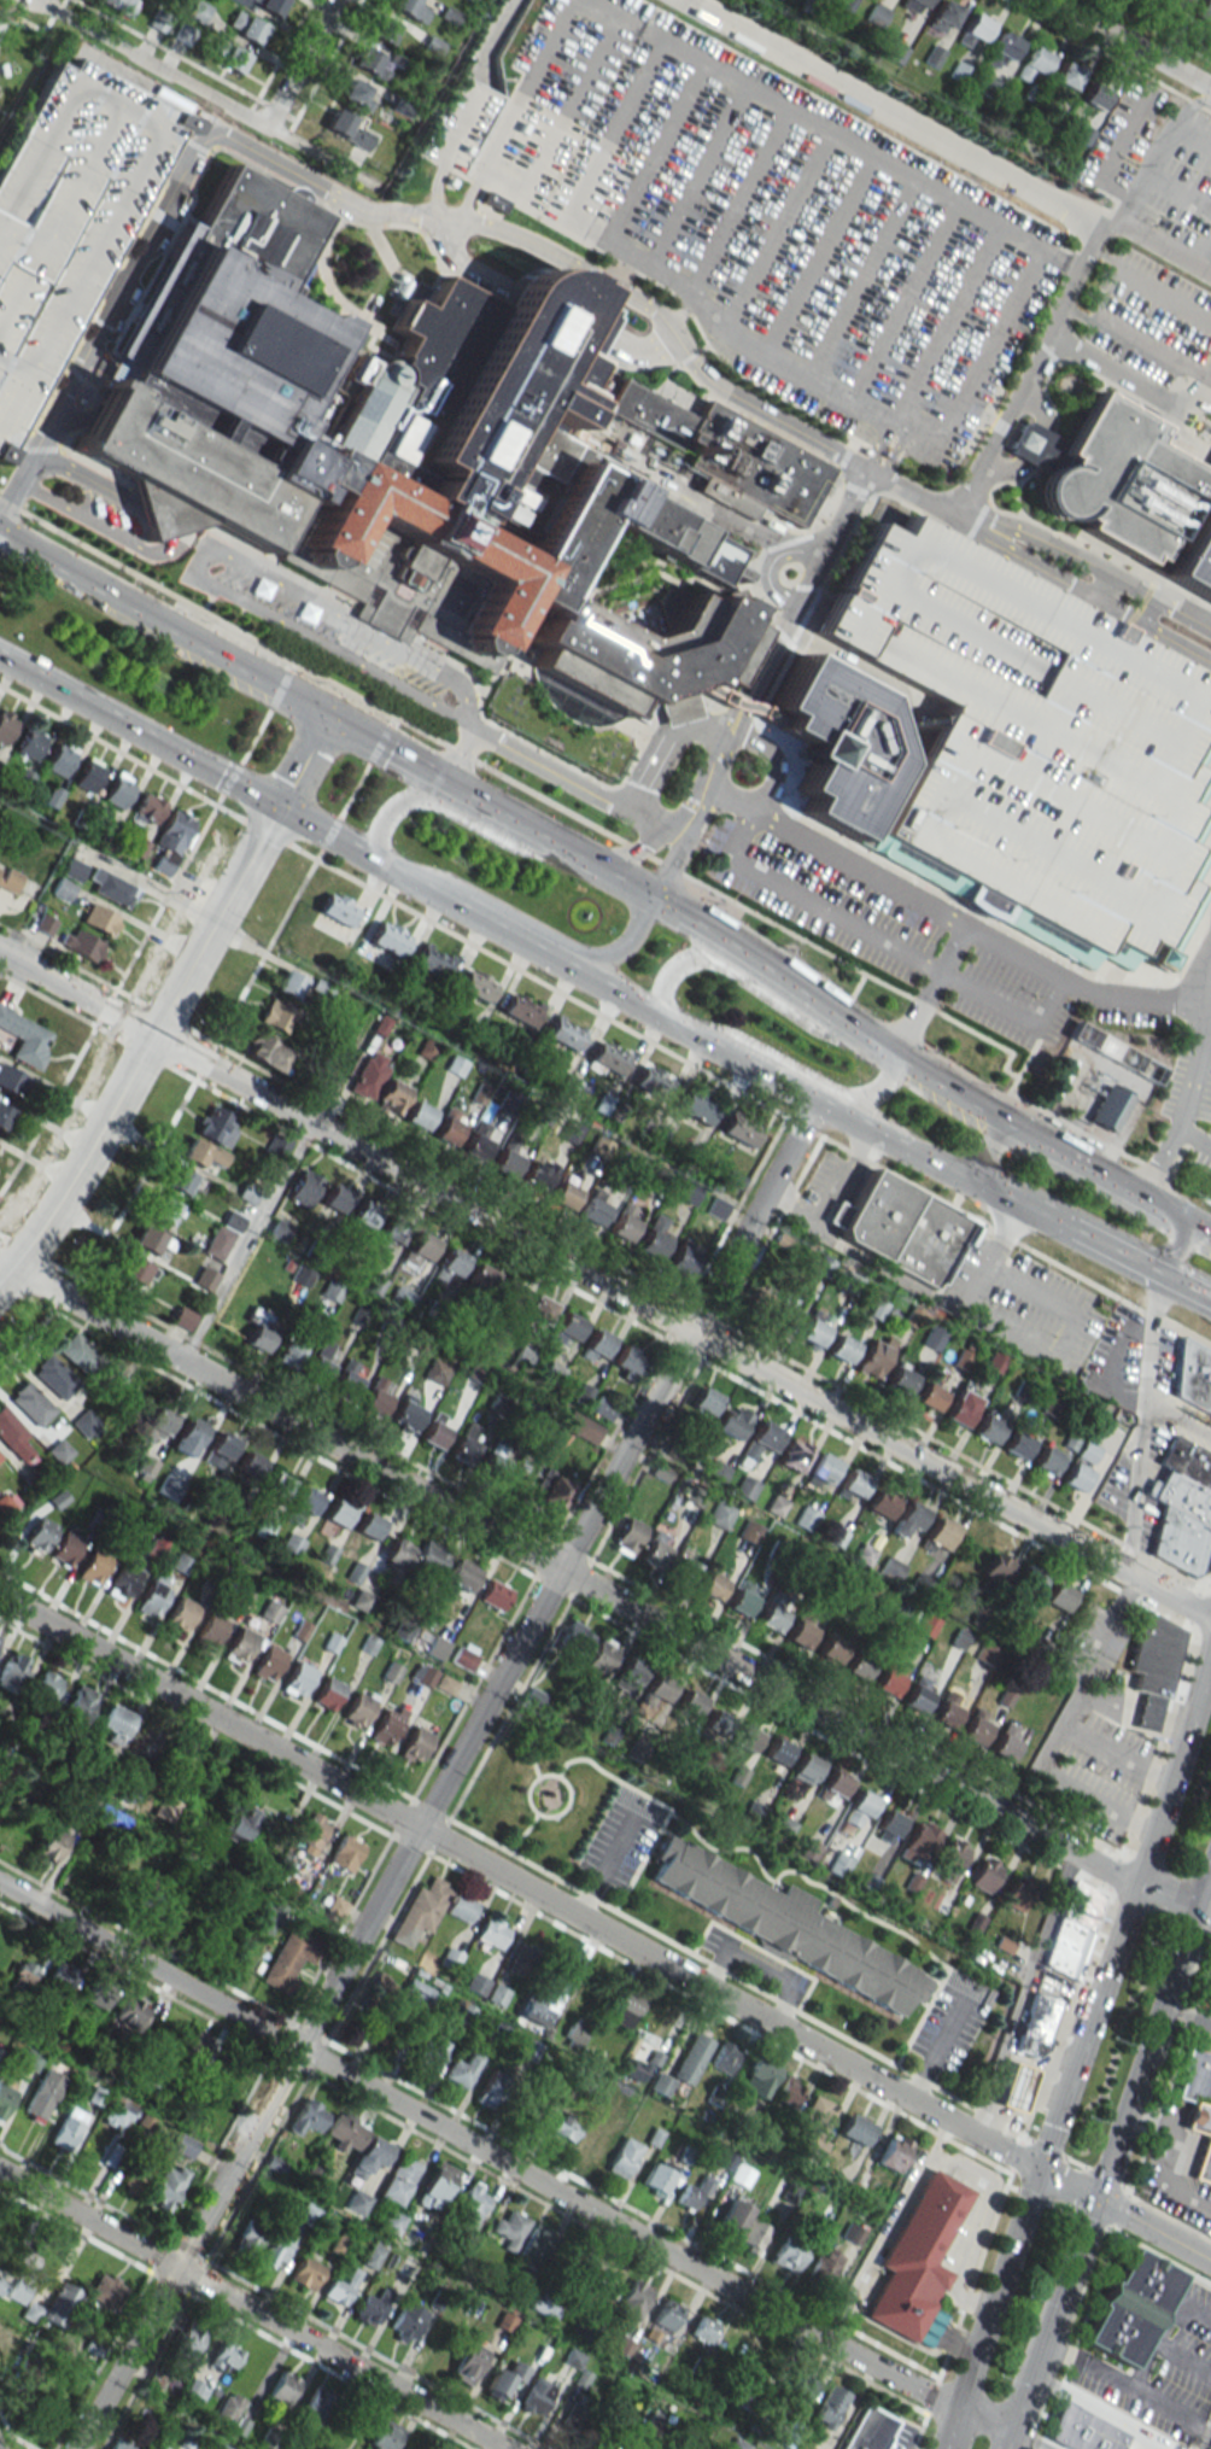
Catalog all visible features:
building: (472, 0)
road: (37, 2)
building: (1177, 2)
building: (267, 5)
building: (913, 5)
building: (119, 6)
building: (409, 7)
building: (198, 10)
building: (1203, 11)
building: (876, 14)
building: (943, 17)
building: (245, 27)
building: (381, 29)
building: (975, 29)
road: (1156, 29)
road: (495, 35)
road: (1129, 45)
building: (1004, 48)
building: (232, 58)
building: (368, 62)
road: (299, 63)
building: (1032, 63)
building: (1066, 75)
road: (525, 86)
road: (199, 90)
building: (357, 94)
building: (1094, 95)
road: (568, 105)
road: (890, 116)
parking lot: (460, 124)
building: (350, 129)
road: (460, 129)
road: (612, 129)
road: (1193, 135)
road: (654, 152)
road: (1160, 152)
road: (1115, 153)
road: (696, 175)
road: (912, 180)
parking lot: (1183, 187)
road: (433, 191)
road: (1180, 191)
road: (466, 195)
road: (739, 199)
road: (397, 211)
building: (66, 215)
parking lot: (66, 215)
parking lot: (773, 222)
road: (777, 233)
road: (1160, 241)
road: (1205, 255)
road: (817, 256)
road: (460, 263)
road: (860, 279)
road: (1151, 284)
road: (902, 302)
road: (680, 311)
road: (703, 311)
parking lot: (1153, 320)
road: (944, 325)
road: (1139, 344)
road: (638, 351)
road: (1036, 367)
road: (1124, 375)
road: (1039, 405)
road: (25, 446)
road: (881, 446)
road: (893, 454)
building: (438, 461)
road: (1002, 468)
building: (1124, 490)
road: (703, 507)
parking lot: (106, 510)
road: (174, 539)
road: (201, 553)
road: (808, 556)
road: (1088, 559)
road: (765, 571)
road: (1098, 584)
road: (1082, 594)
road: (1147, 609)
road: (162, 627)
road: (770, 649)
road: (865, 676)
traffic signals: (327, 718)
building: (5, 725)
road: (139, 730)
road: (350, 730)
building: (29, 743)
road: (663, 749)
building: (837, 749)
building: (1031, 749)
parking lot: (1031, 749)
road: (460, 756)
building: (59, 759)
road: (773, 759)
road: (303, 761)
road: (409, 762)
building: (88, 773)
road: (574, 783)
road: (519, 784)
building: (117, 790)
road: (729, 797)
road: (482, 802)
traffic signals: (279, 806)
building: (147, 807)
road: (450, 812)
road: (322, 831)
building: (171, 841)
road: (634, 852)
road: (667, 865)
building: (74, 869)
building: (8, 878)
road: (615, 879)
road: (413, 882)
building: (110, 888)
building: (62, 889)
traffic signals: (648, 896)
building: (337, 908)
building: (99, 918)
road: (543, 930)
building: (387, 937)
road: (989, 937)
road: (881, 940)
building: (80, 943)
road: (704, 959)
building: (432, 960)
road: (554, 962)
parking lot: (956, 968)
road: (666, 977)
building: (289, 983)
building: (475, 984)
road: (928, 990)
road: (802, 996)
road: (779, 1005)
building: (520, 1009)
building: (276, 1016)
road: (604, 1017)
building: (563, 1033)
building: (25, 1038)
road: (146, 1047)
building: (263, 1051)
building: (1113, 1052)
building: (605, 1058)
road: (802, 1070)
building: (368, 1075)
building: (11, 1080)
building: (650, 1081)
road: (931, 1082)
power substation: (1099, 1086)
building: (390, 1097)
road: (1186, 1099)
building: (694, 1105)
building: (1106, 1107)
road: (819, 1109)
building: (4, 1115)
building: (417, 1115)
road: (989, 1118)
building: (215, 1126)
building: (447, 1127)
building: (738, 1129)
building: (569, 1132)
road: (1193, 1136)
building: (475, 1142)
road: (976, 1147)
building: (200, 1152)
building: (507, 1159)
road: (1071, 1164)
building: (538, 1175)
building: (181, 1180)
building: (303, 1187)
building: (563, 1194)
road: (829, 1197)
building: (334, 1199)
building: (714, 1208)
building: (165, 1211)
road: (1031, 1214)
road: (1162, 1214)
building: (364, 1215)
building: (624, 1222)
building: (900, 1229)
building: (391, 1231)
building: (222, 1234)
road: (1199, 1234)
building: (150, 1239)
road: (246, 1241)
building: (651, 1241)
building: (419, 1251)
road: (1177, 1252)
road: (1117, 1255)
building: (681, 1258)
building: (449, 1264)
building: (133, 1270)
building: (302, 1274)
building: (204, 1278)
building: (479, 1279)
road: (604, 1285)
road: (1188, 1287)
building: (508, 1294)
building: (399, 1298)
building: (538, 1309)
building: (783, 1311)
building: (182, 1317)
building: (813, 1327)
building: (259, 1328)
building: (566, 1328)
road: (1066, 1332)
building: (932, 1337)
building: (595, 1345)
building: (841, 1348)
building: (78, 1352)
building: (287, 1354)
building: (873, 1356)
building: (522, 1357)
building: (321, 1361)
building: (625, 1361)
building: (435, 1372)
building: (475, 1372)
building: (53, 1377)
building: (347, 1378)
building: (900, 1378)
building: (1193, 1378)
building: (374, 1397)
building: (928, 1397)
building: (703, 1401)
building: (30, 1403)
building: (959, 1407)
building: (405, 1413)
building: (731, 1421)
road: (1140, 1422)
building: (86, 1424)
building: (580, 1426)
building: (151, 1427)
building: (987, 1427)
building: (433, 1430)
building: (13, 1436)
building: (188, 1436)
building: (761, 1439)
building: (1016, 1444)
building: (464, 1445)
building: (218, 1450)
building: (1086, 1451)
building: (792, 1454)
building: (0, 1456)
building: (1045, 1461)
building: (493, 1463)
building: (248, 1465)
building: (821, 1468)
building: (1075, 1477)
building: (275, 1485)
building: (850, 1485)
building: (168, 1486)
building: (744, 1486)
building: (554, 1492)
building: (6, 1502)
building: (879, 1503)
building: (302, 1507)
building: (1181, 1507)
building: (337, 1513)
building: (719, 1514)
building: (805, 1518)
building: (907, 1518)
building: (368, 1525)
building: (749, 1532)
building: (628, 1533)
building: (938, 1533)
building: (39, 1535)
building: (156, 1545)
building: (65, 1548)
building: (655, 1549)
building: (397, 1553)
building: (429, 1557)
building: (92, 1566)
building: (994, 1566)
building: (681, 1570)
building: (462, 1574)
building: (1029, 1579)
road: (579, 1580)
building: (122, 1582)
building: (710, 1585)
building: (153, 1594)
building: (493, 1594)
building: (1057, 1596)
building: (742, 1597)
building: (771, 1612)
building: (181, 1613)
building: (924, 1627)
building: (210, 1630)
building: (800, 1632)
building: (574, 1637)
building: (239, 1646)
building: (830, 1648)
building: (985, 1654)
building: (462, 1655)
building: (599, 1656)
building: (268, 1662)
building: (856, 1666)
building: (1152, 1667)
building: (11, 1671)
building: (628, 1672)
building: (889, 1676)
building: (297, 1678)
building: (45, 1687)
building: (919, 1687)
building: (657, 1689)
building: (327, 1693)
building: (532, 1697)
road: (513, 1699)
building: (689, 1702)
building: (77, 1706)
building: (358, 1707)
building: (947, 1708)
building: (715, 1723)
building: (387, 1724)
building: (118, 1725)
building: (975, 1726)
road: (1061, 1730)
building: (745, 1737)
road: (525, 1738)
building: (1005, 1742)
building: (414, 1744)
building: (776, 1750)
road: (1116, 1758)
building: (180, 1759)
road: (1176, 1763)
building: (805, 1769)
road: (445, 1776)
road: (536, 1777)
building: (832, 1787)
building: (127, 1792)
building: (165, 1808)
park: (563, 1808)
building: (859, 1808)
building: (0, 1812)
building: (107, 1818)
building: (244, 1822)
building: (888, 1824)
building: (312, 1829)
road: (522, 1831)
parking lot: (620, 1836)
building: (918, 1842)
building: (51, 1846)
building: (345, 1853)
road: (640, 1859)
building: (950, 1860)
building: (838, 1865)
road: (602, 1866)
road: (789, 1870)
building: (983, 1875)
road: (519, 1883)
road: (1204, 1883)
building: (1018, 1892)
road: (1180, 1900)
building: (337, 1906)
building: (460, 1907)
building: (420, 1911)
building: (265, 1915)
building: (782, 1925)
road: (1200, 1925)
building: (1072, 1929)
building: (491, 1934)
road: (761, 1950)
building: (288, 1958)
building: (449, 1958)
building: (519, 1958)
road: (715, 1965)
road: (761, 1965)
building: (24, 1974)
building: (57, 1977)
building: (475, 1982)
building: (379, 1986)
building: (497, 1994)
road: (1023, 1994)
building: (414, 1995)
building: (625, 2009)
building: (130, 2011)
building: (533, 2013)
road: (1186, 2018)
building: (1037, 2027)
road: (1087, 2027)
building: (574, 2033)
building: (159, 2034)
building: (384, 2034)
building: (528, 2048)
building: (195, 2051)
road: (935, 2051)
road: (1146, 2052)
building: (428, 2053)
building: (724, 2057)
building: (685, 2063)
building: (461, 2070)
building: (634, 2070)
building: (1195, 2076)
building: (756, 2077)
building: (489, 2088)
building: (1017, 2091)
building: (786, 2092)
building: (43, 2093)
building: (5, 2097)
building: (118, 2115)
building: (308, 2117)
building: (815, 2121)
building: (564, 2126)
building: (66, 2128)
building: (853, 2128)
building: (344, 2131)
building: (597, 2139)
building: (183, 2145)
building: (891, 2152)
road: (1176, 2155)
road: (492, 2156)
building: (1204, 2156)
building: (368, 2157)
building: (624, 2157)
traffic signals: (1037, 2170)
building: (136, 2173)
building: (739, 2175)
building: (656, 2176)
building: (398, 2180)
road: (1066, 2185)
building: (166, 2186)
building: (437, 2186)
building: (692, 2193)
traffic signals: (1096, 2200)
building: (357, 2202)
building: (470, 2203)
building: (731, 2216)
building: (393, 2219)
road: (979, 2223)
building: (510, 2227)
road: (1153, 2229)
road: (890, 2232)
building: (250, 2234)
building: (751, 2235)
building: (534, 2245)
building: (275, 2249)
building: (373, 2256)
building: (785, 2256)
building: (914, 2257)
building: (823, 2264)
building: (591, 2270)
building: (305, 2273)
building: (13, 2286)
building: (339, 2289)
road: (996, 2290)
building: (106, 2292)
building: (634, 2298)
building: (60, 2304)
building: (373, 2307)
building: (1129, 2307)
road: (252, 2309)
building: (466, 2313)
building: (666, 2314)
road: (1053, 2318)
building: (406, 2322)
building: (702, 2328)
road: (1165, 2331)
building: (6, 2334)
building: (186, 2342)
building: (733, 2345)
building: (224, 2356)
road: (1184, 2356)
building: (468, 2362)
building: (504, 2380)
building: (282, 2386)
building: (800, 2386)
road: (1127, 2386)
building: (194, 2391)
building: (536, 2397)
building: (317, 2406)
building: (829, 2407)
building: (228, 2408)
road: (1099, 2414)
building: (574, 2415)
building: (610, 2418)
road: (998, 2428)
building: (866, 2430)
road: (952, 2430)
building: (1083, 2431)
building: (385, 2435)
road: (1207, 2441)
road: (1006, 2442)
road: (1024, 2442)
building: (121, 2444)
building: (737, 2444)
building: (158, 2447)

